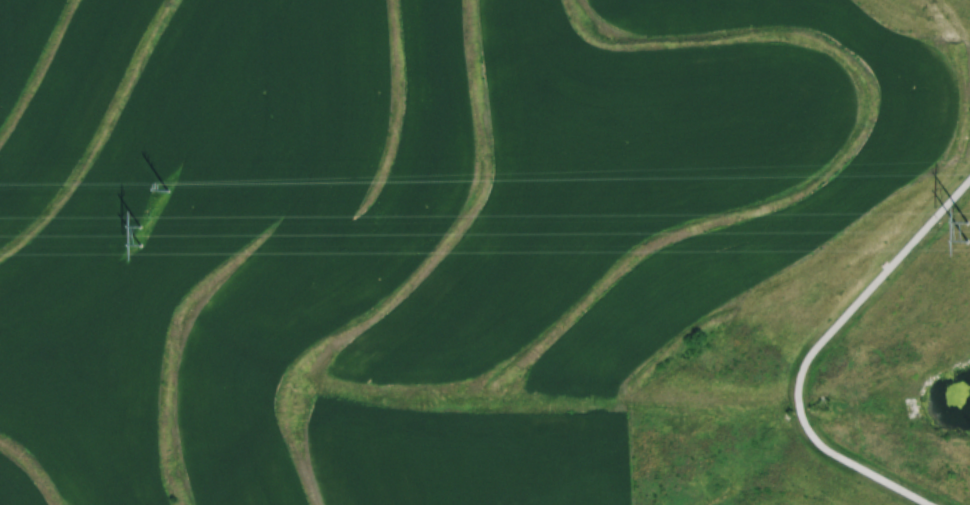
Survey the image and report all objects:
park: (928, 14)
power tower: (645, 186)
power tower: (155, 189)
power tower: (642, 229)
power tower: (148, 232)
road: (810, 348)
park: (827, 369)

